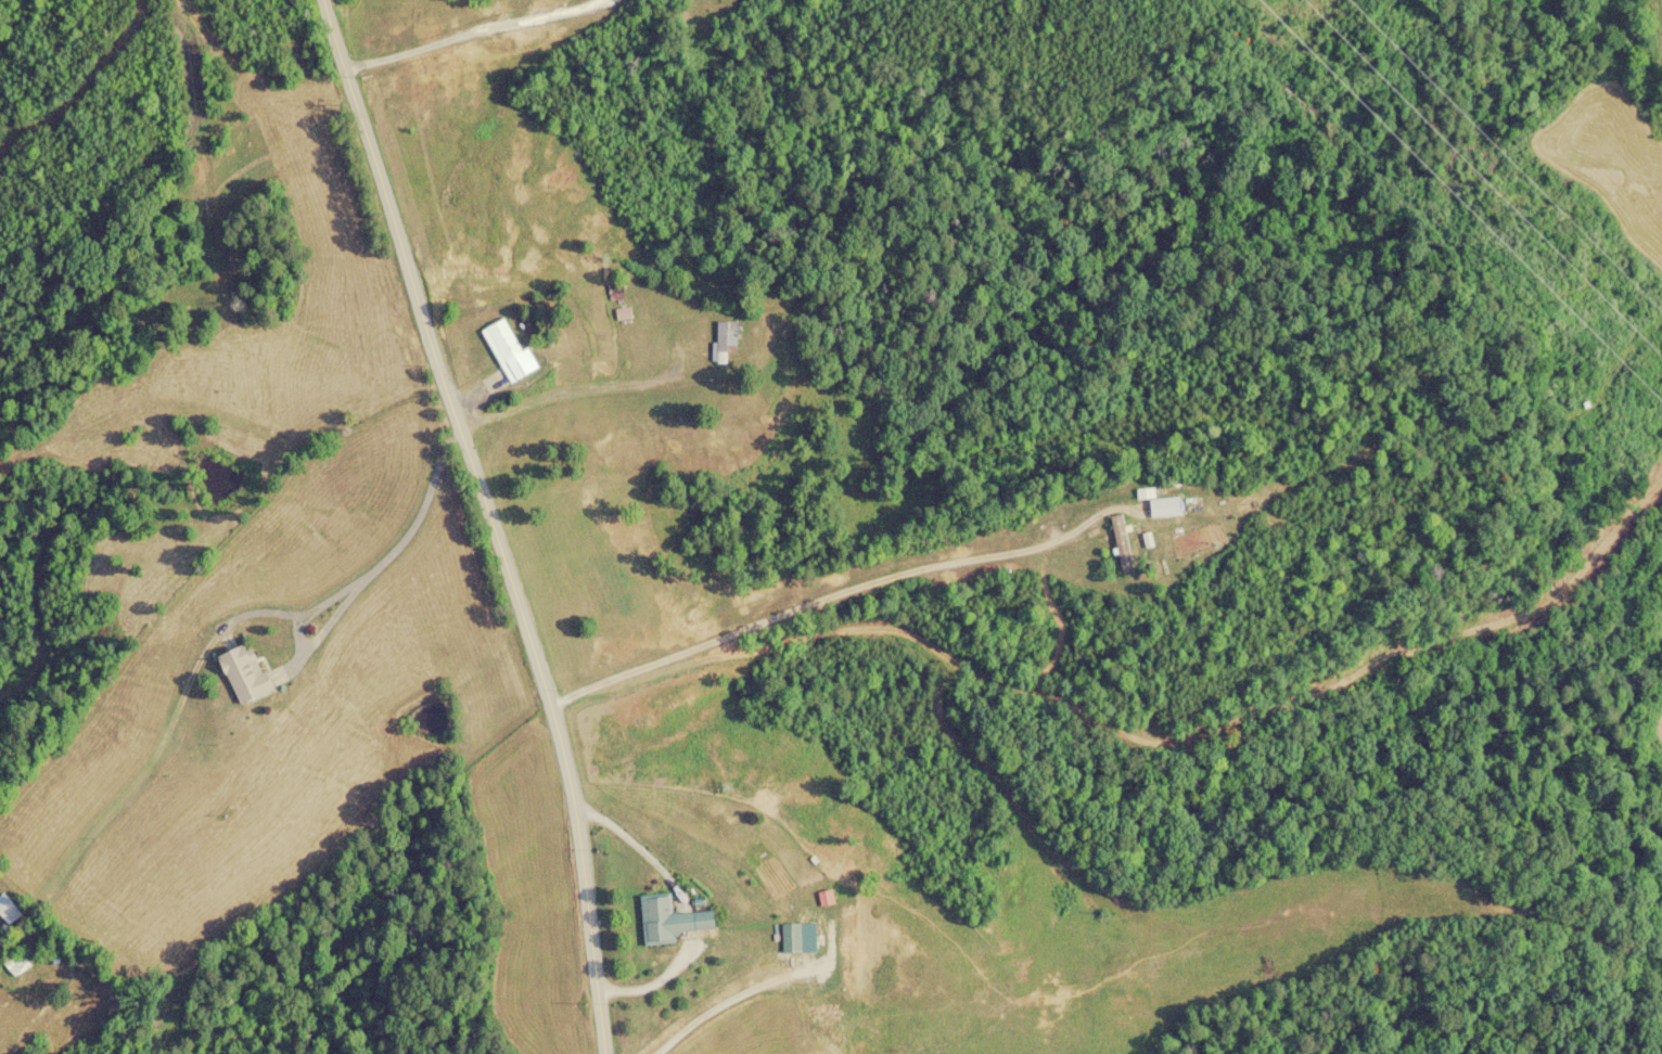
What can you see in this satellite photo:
building: (727, 340)
building: (509, 352)
building: (1161, 505)
road: (424, 525)
building: (1122, 544)
building: (244, 676)
building: (8, 910)
building: (669, 920)
building: (791, 938)
building: (17, 964)

